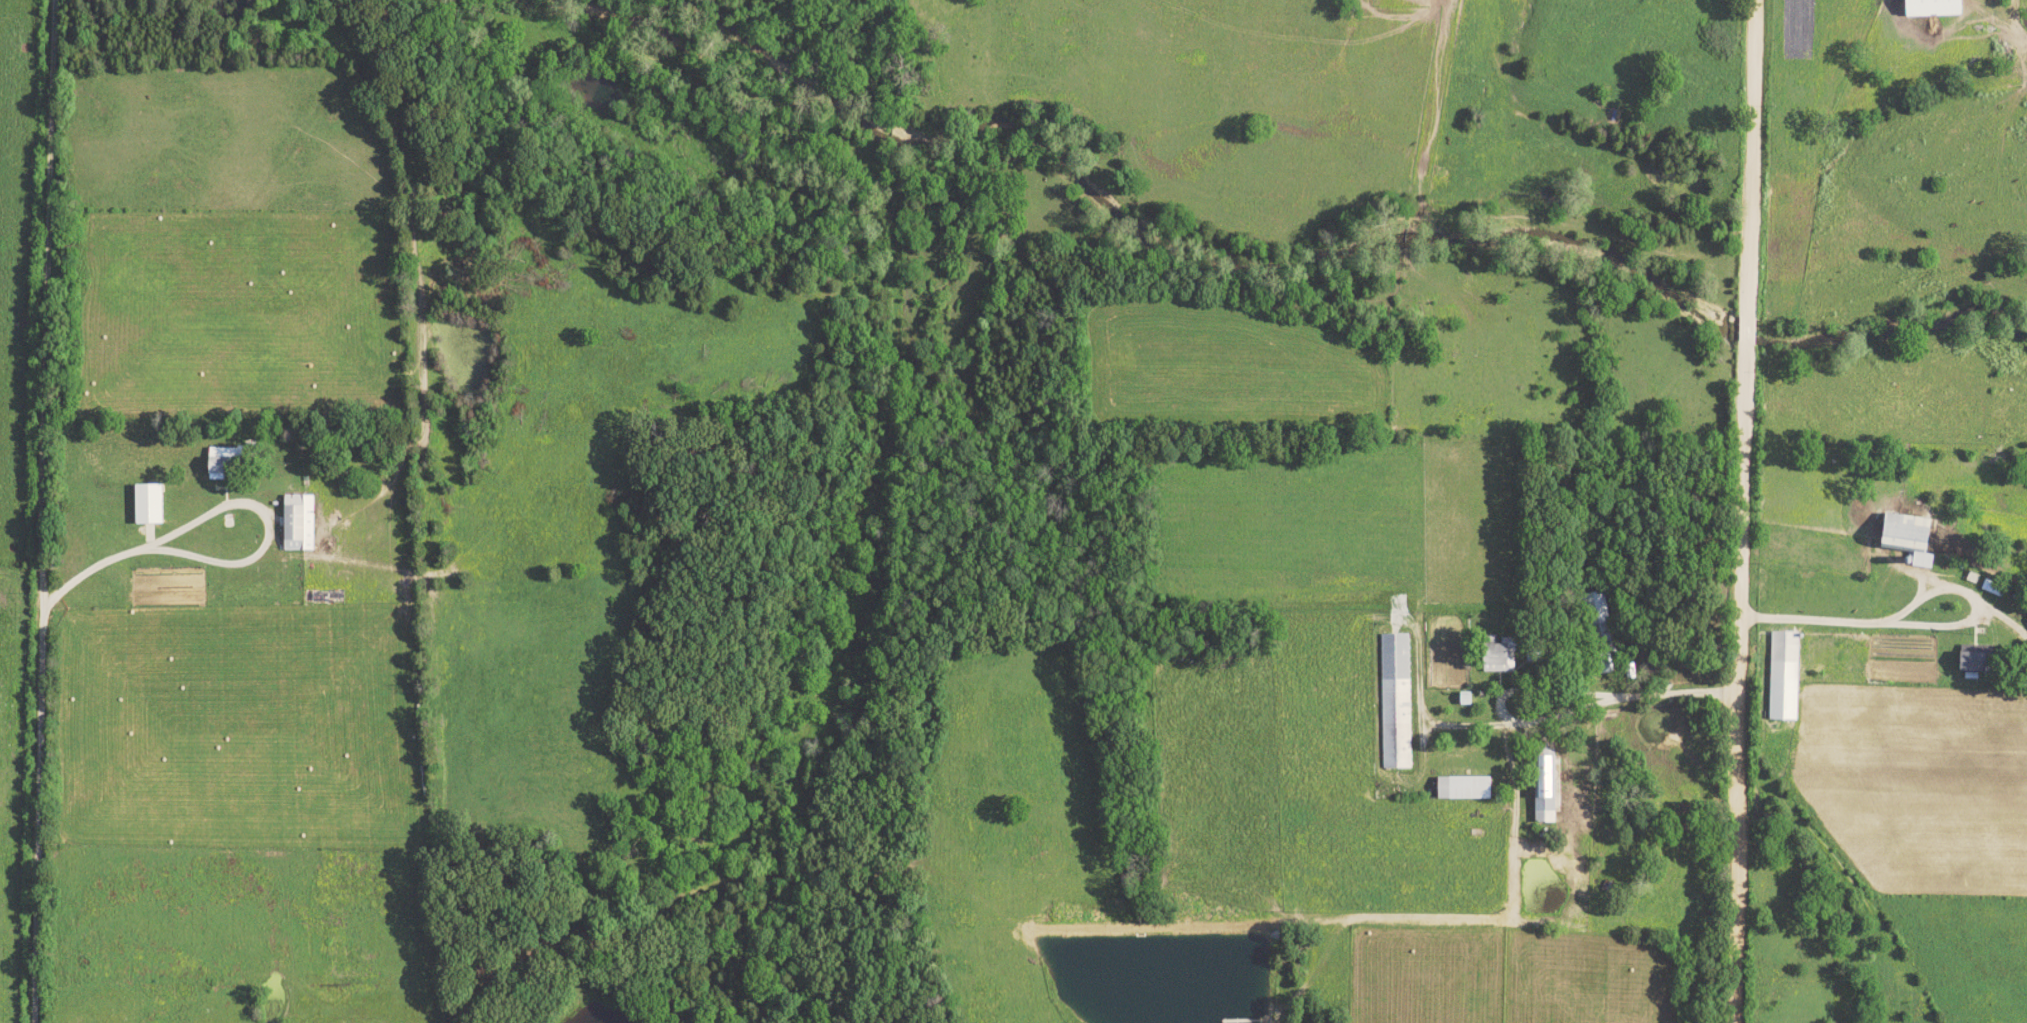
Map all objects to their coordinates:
building: (213, 461)
building: (146, 504)
road: (220, 509)
road: (38, 511)
road: (1737, 511)
building: (295, 523)
building: (1904, 537)
road: (1906, 605)
road: (1997, 620)
building: (2026, 621)
building: (1493, 657)
building: (1967, 661)
building: (1782, 676)
road: (1508, 689)
road: (1662, 695)
building: (1463, 699)
building: (1395, 701)
building: (1460, 788)
building: (1542, 789)

